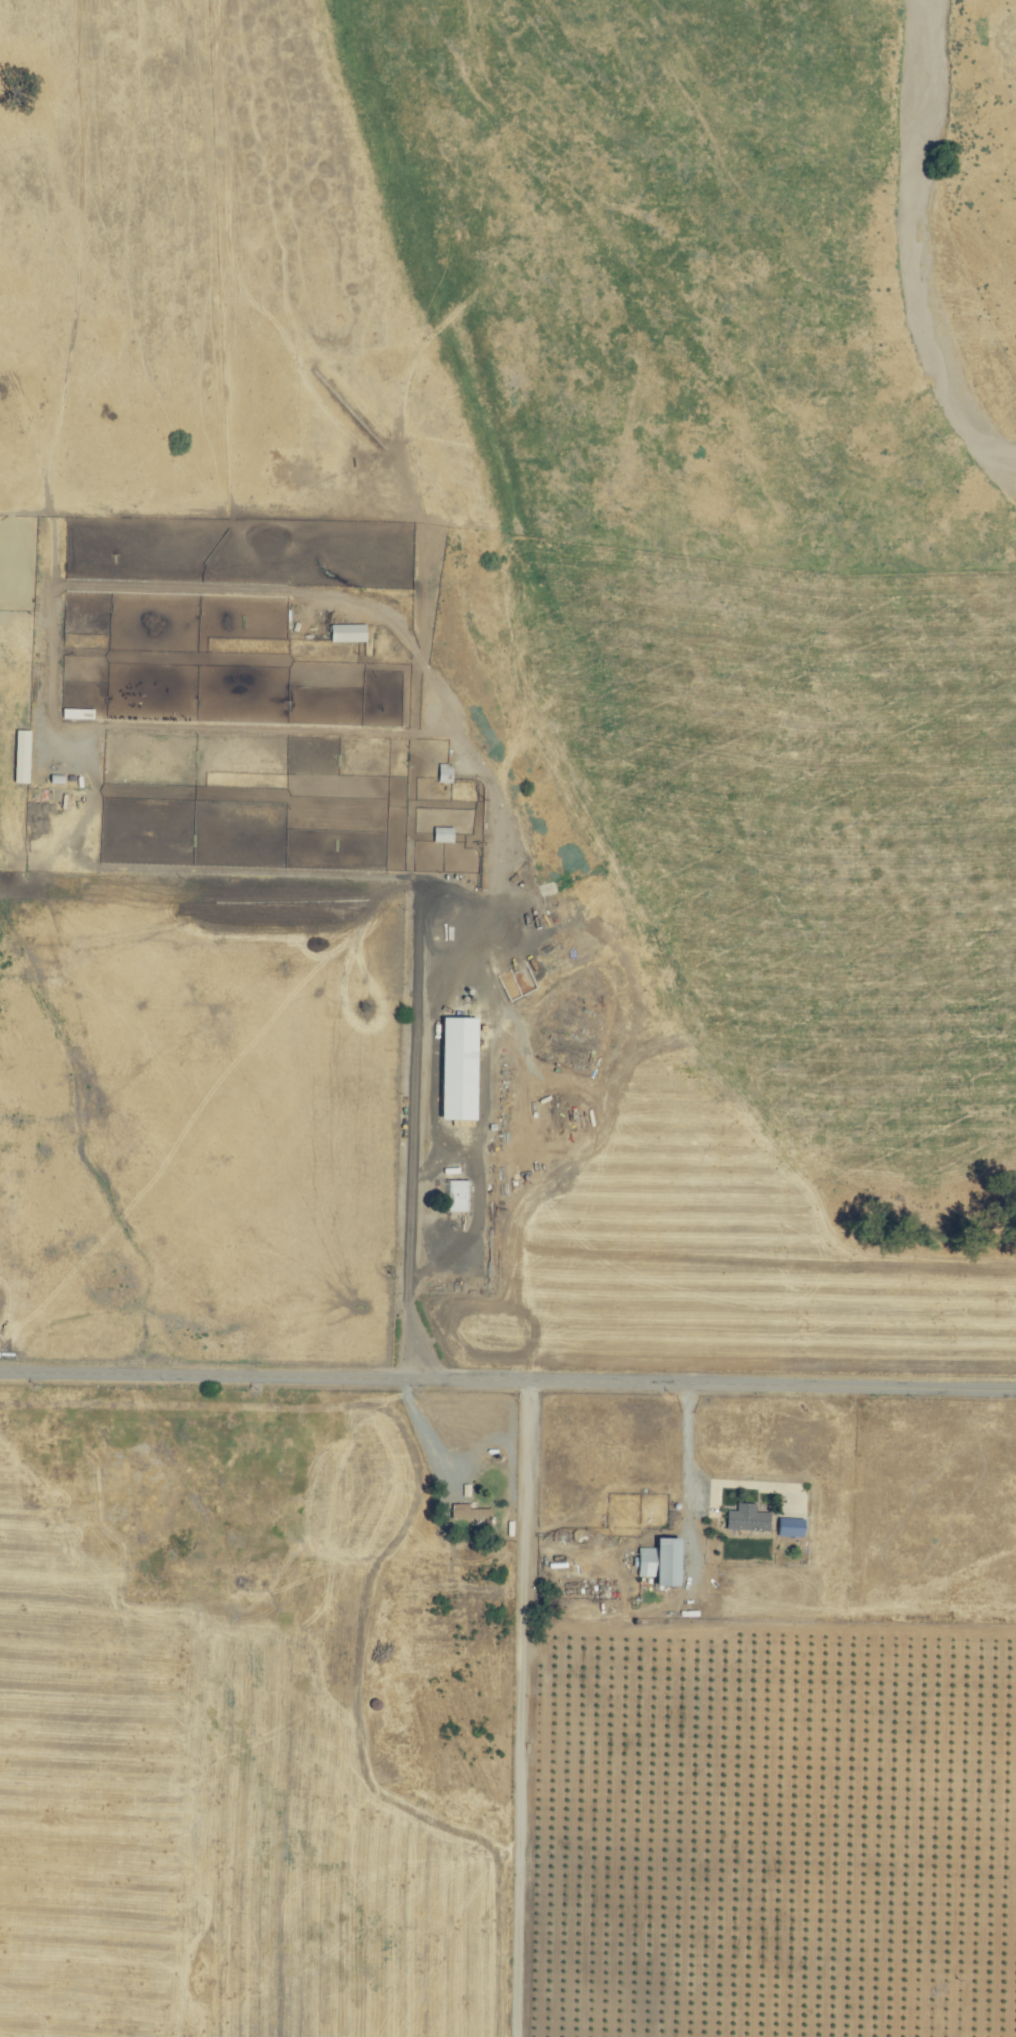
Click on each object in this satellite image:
crop: (159, 487)
crop: (733, 530)
building: (346, 633)
building: (19, 756)
building: (441, 834)
building: (455, 1069)
building: (457, 1196)
road: (428, 1265)
road: (508, 1379)
road: (685, 1441)
crop: (202, 1468)
building: (467, 1513)
building: (746, 1519)
building: (788, 1528)
building: (658, 1563)
road: (530, 1708)

